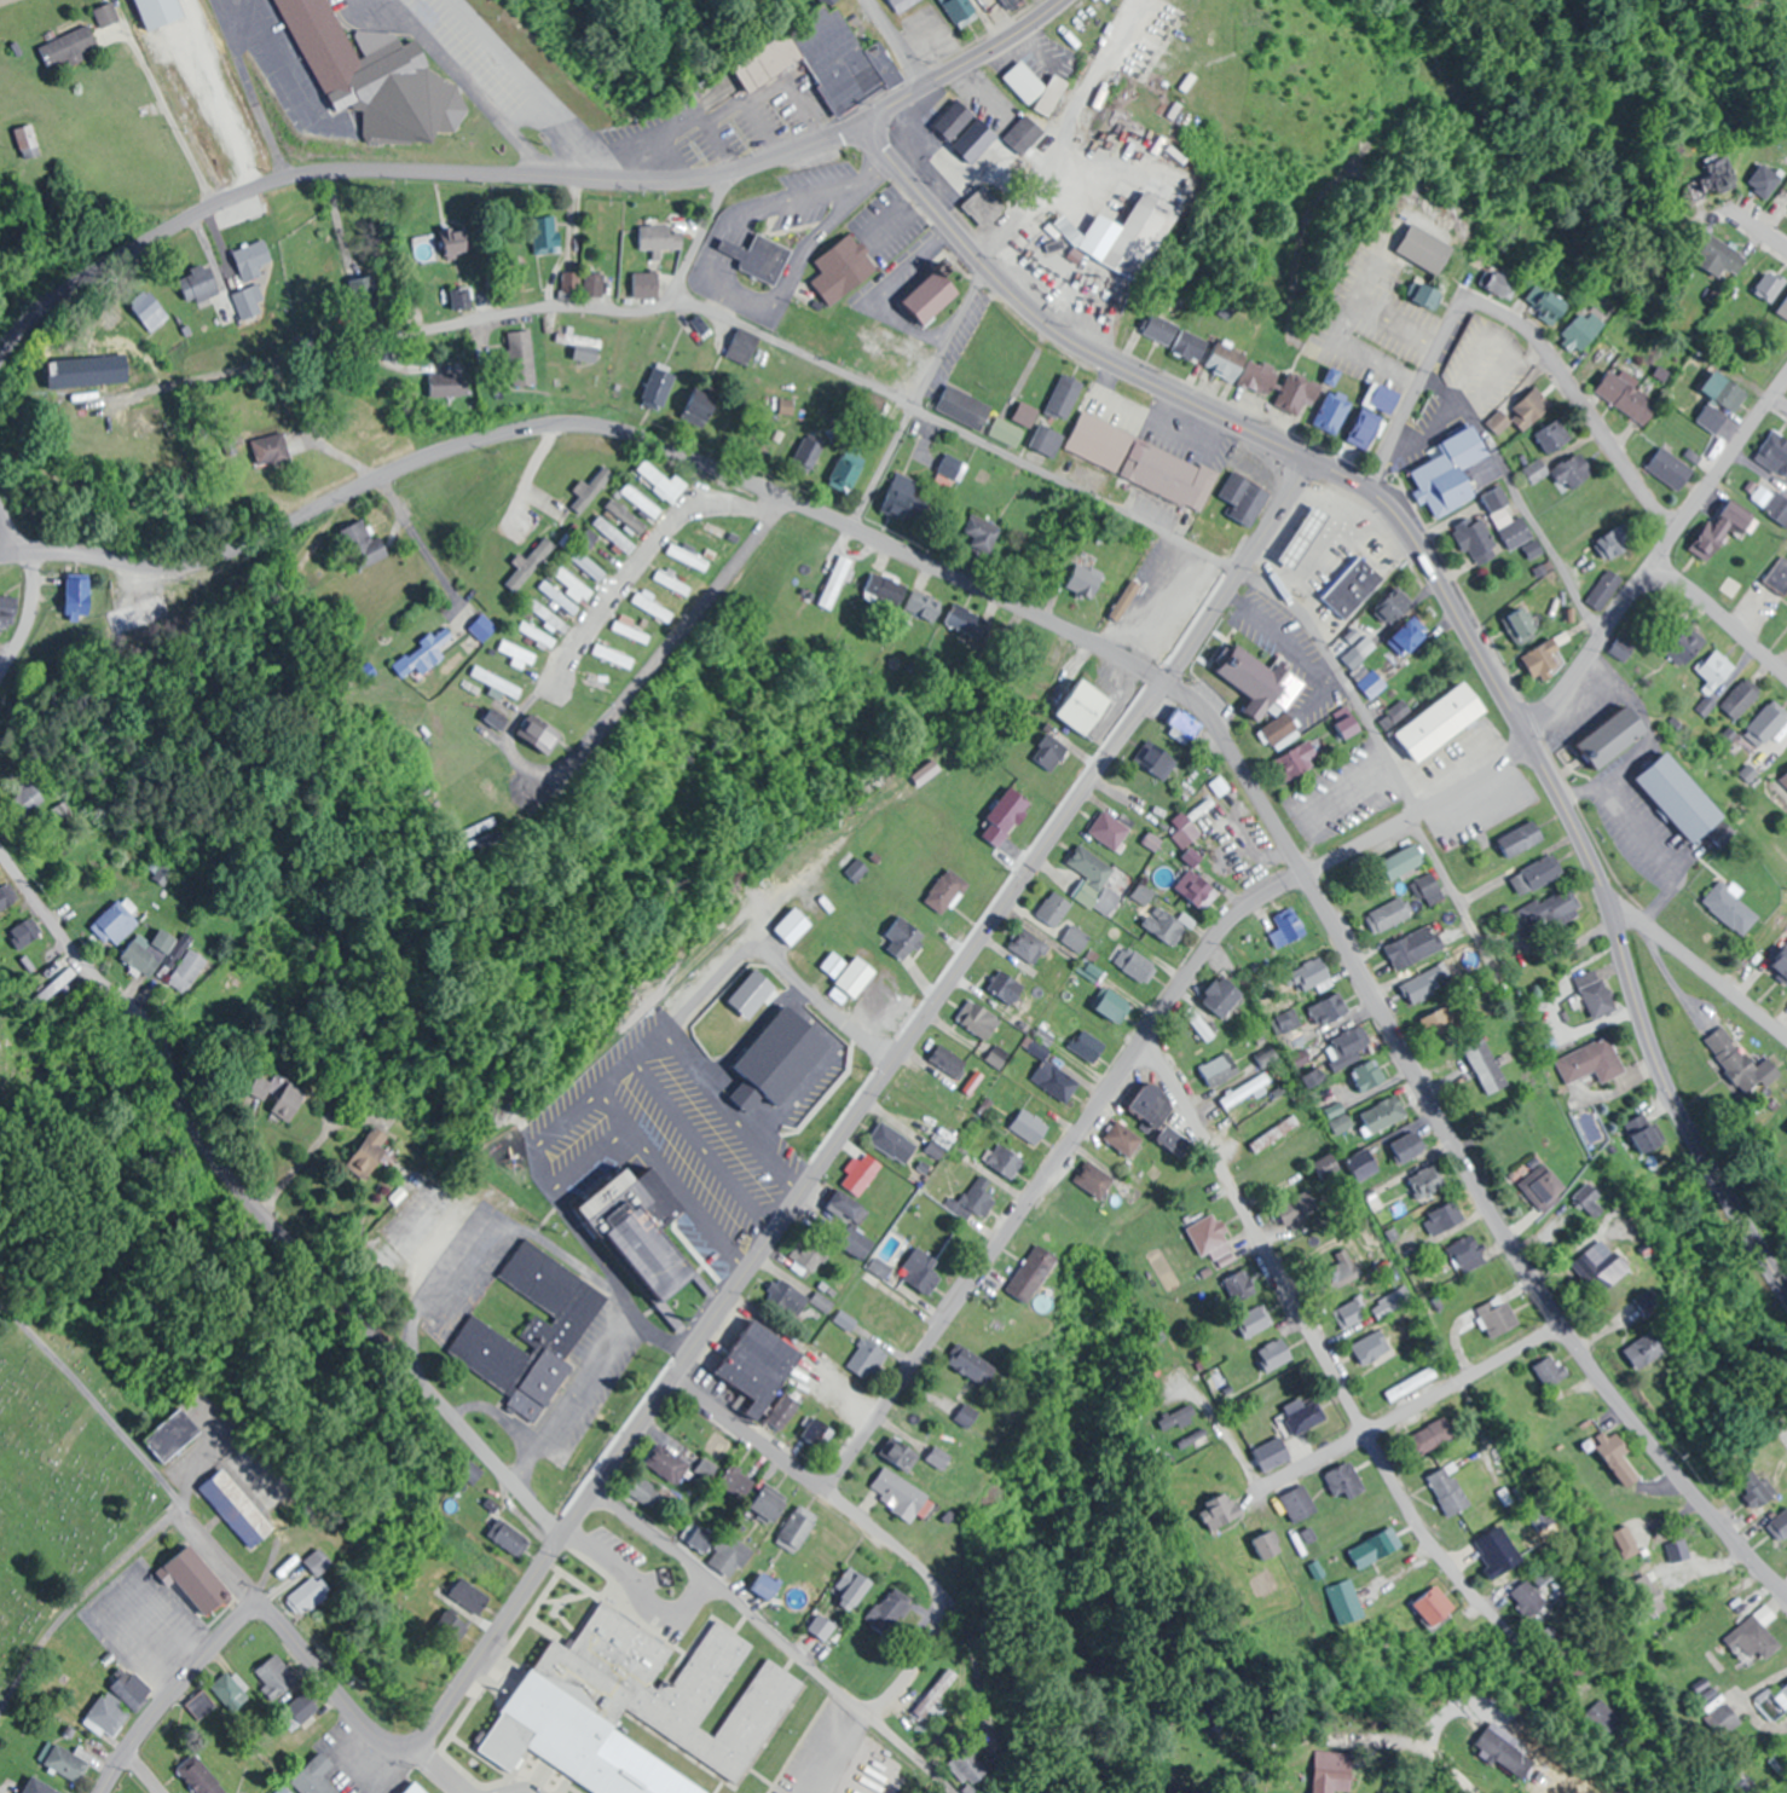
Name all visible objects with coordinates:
building: (897, 1)
building: (1013, 5)
building: (962, 10)
building: (110, 15)
road: (273, 41)
road: (897, 42)
building: (71, 47)
building: (822, 58)
road: (965, 64)
building: (380, 75)
road: (469, 87)
road: (532, 87)
building: (1039, 87)
building: (955, 120)
building: (1026, 134)
building: (29, 140)
road: (409, 167)
building: (1713, 177)
building: (1764, 178)
building: (985, 206)
building: (1075, 231)
road: (1759, 232)
building: (546, 233)
road: (701, 233)
building: (1139, 235)
building: (661, 237)
building: (1424, 248)
building: (761, 256)
building: (251, 258)
building: (1724, 259)
building: (844, 268)
building: (569, 280)
building: (201, 283)
road: (716, 283)
building: (595, 284)
building: (647, 284)
building: (1770, 285)
building: (933, 295)
building: (459, 299)
building: (244, 302)
building: (1545, 303)
building: (1782, 308)
building: (150, 310)
building: (1580, 332)
building: (1176, 337)
road: (368, 345)
building: (585, 346)
building: (742, 352)
building: (525, 357)
building: (1226, 363)
building: (89, 370)
parking lot: (1105, 374)
building: (1262, 377)
building: (450, 384)
building: (660, 387)
building: (1725, 391)
building: (1300, 393)
road: (918, 397)
building: (1068, 397)
road: (1412, 399)
building: (1626, 399)
road: (1780, 399)
road: (1579, 404)
building: (702, 407)
building: (968, 409)
building: (1523, 412)
building: (1335, 413)
building: (1028, 415)
building: (1712, 420)
parking lot: (1167, 422)
building: (1367, 429)
building: (1008, 433)
building: (1552, 438)
building: (1775, 453)
building: (1147, 459)
building: (852, 467)
building: (954, 467)
building: (1671, 469)
building: (1574, 472)
building: (1458, 473)
building: (665, 482)
road: (1095, 497)
building: (1247, 498)
building: (907, 499)
building: (1771, 502)
building: (644, 503)
building: (1515, 528)
road: (11, 531)
building: (1724, 531)
building: (1301, 533)
building: (982, 534)
building: (722, 537)
building: (621, 539)
building: (1477, 542)
building: (1614, 543)
building: (363, 544)
road: (11, 553)
building: (692, 557)
road: (1659, 557)
road: (649, 560)
building: (589, 565)
building: (1779, 576)
building: (835, 582)
building: (676, 583)
building: (1352, 585)
building: (1083, 586)
building: (1606, 590)
building: (886, 591)
building: (79, 596)
road: (1451, 600)
building: (1127, 601)
building: (925, 605)
building: (655, 607)
building: (1395, 607)
building: (7, 611)
building: (141, 614)
road: (29, 615)
building: (550, 615)
road: (1722, 618)
building: (971, 621)
building: (485, 627)
building: (1521, 627)
building: (539, 635)
building: (1415, 637)
road: (1115, 650)
building: (1624, 650)
building: (1683, 652)
building: (426, 653)
building: (517, 653)
building: (617, 655)
building: (1548, 660)
building: (1716, 669)
building: (498, 682)
building: (1259, 682)
building: (1375, 683)
building: (601, 684)
building: (1741, 700)
road: (626, 702)
building: (1086, 707)
building: (1349, 723)
building: (1444, 723)
building: (1189, 725)
building: (1768, 725)
building: (1284, 731)
building: (1608, 738)
building: (1054, 751)
building: (1159, 759)
building: (1301, 762)
road: (1608, 781)
building: (1783, 782)
building: (1222, 786)
building: (28, 798)
building: (1678, 798)
building: (1007, 817)
building: (1114, 828)
building: (1522, 839)
road: (1665, 852)
building: (1407, 862)
building: (1094, 874)
building: (1537, 875)
building: (1199, 890)
building: (1430, 890)
building: (948, 891)
building: (4, 900)
building: (1057, 909)
building: (1552, 910)
building: (1392, 915)
building: (114, 925)
building: (1168, 925)
building: (1292, 925)
building: (792, 926)
building: (23, 933)
building: (907, 937)
building: (1078, 939)
building: (1033, 944)
building: (1416, 948)
building: (149, 952)
building: (1782, 962)
building: (1138, 965)
road: (1698, 970)
building: (186, 971)
building: (851, 972)
building: (1315, 973)
building: (1425, 983)
building: (1010, 988)
building: (1597, 994)
building: (1226, 997)
building: (1111, 1007)
building: (1332, 1010)
building: (981, 1020)
building: (1441, 1023)
building: (1091, 1047)
building: (1348, 1047)
road: (1126, 1062)
building: (1594, 1062)
building: (1742, 1063)
building: (1488, 1066)
building: (947, 1069)
building: (1221, 1070)
building: (1366, 1077)
building: (1059, 1081)
building: (1247, 1091)
building: (288, 1103)
building: (1156, 1106)
building: (1337, 1109)
building: (1387, 1114)
building: (1343, 1122)
building: (1030, 1127)
building: (1276, 1133)
building: (1124, 1139)
building: (1175, 1140)
building: (1648, 1141)
building: (896, 1144)
building: (1409, 1147)
building: (366, 1156)
building: (1008, 1162)
building: (1364, 1164)
building: (1328, 1166)
building: (864, 1174)
building: (1095, 1180)
building: (1428, 1181)
building: (1546, 1187)
road: (799, 1191)
building: (978, 1199)
building: (1594, 1201)
road: (256, 1205)
building: (1301, 1210)
building: (1446, 1219)
building: (854, 1224)
building: (1213, 1237)
building: (640, 1242)
building: (1470, 1253)
building: (806, 1256)
building: (1340, 1266)
building: (883, 1268)
building: (1588, 1271)
building: (924, 1272)
building: (1035, 1273)
building: (1241, 1292)
building: (790, 1299)
building: (1394, 1302)
building: (1652, 1302)
building: (890, 1314)
building: (1351, 1314)
building: (1256, 1318)
building: (1498, 1318)
building: (534, 1334)
road: (1317, 1347)
building: (1373, 1349)
building: (1649, 1349)
building: (1277, 1352)
building: (869, 1358)
building: (973, 1365)
building: (762, 1366)
building: (827, 1369)
building: (1554, 1370)
building: (1412, 1384)
road: (96, 1401)
road: (1405, 1407)
building: (786, 1413)
building: (1307, 1418)
building: (1176, 1419)
building: (816, 1431)
building: (174, 1435)
building: (1433, 1438)
building: (902, 1454)
park: (63, 1461)
building: (670, 1467)
building: (1346, 1480)
building: (739, 1483)
building: (1759, 1487)
building: (1451, 1492)
building: (901, 1493)
building: (1300, 1504)
building: (771, 1505)
building: (238, 1508)
building: (1219, 1515)
road: (858, 1519)
building: (1782, 1523)
building: (800, 1529)
building: (700, 1537)
building: (1266, 1546)
building: (1381, 1548)
road: (220, 1554)
building: (1497, 1555)
building: (731, 1556)
building: (319, 1561)
building: (491, 1568)
building: (197, 1580)
building: (768, 1586)
building: (854, 1591)
building: (308, 1596)
building: (472, 1596)
building: (1534, 1600)
building: (1438, 1607)
building: (890, 1613)
building: (453, 1626)
building: (823, 1627)
building: (1760, 1635)
road: (777, 1636)
road: (914, 1659)
building: (276, 1677)
building: (667, 1688)
road: (173, 1690)
building: (1785, 1690)
building: (230, 1691)
building: (935, 1693)
building: (131, 1694)
building: (202, 1705)
building: (302, 1707)
building: (109, 1714)
building: (1527, 1725)
building: (509, 1742)
building: (1506, 1753)
building: (69, 1762)
road: (1439, 1764)
building: (966, 1768)
road: (141, 1774)
building: (202, 1775)
building: (314, 1776)
building: (1563, 1780)
building: (40, 1787)
building: (283, 1789)
building: (417, 1789)

